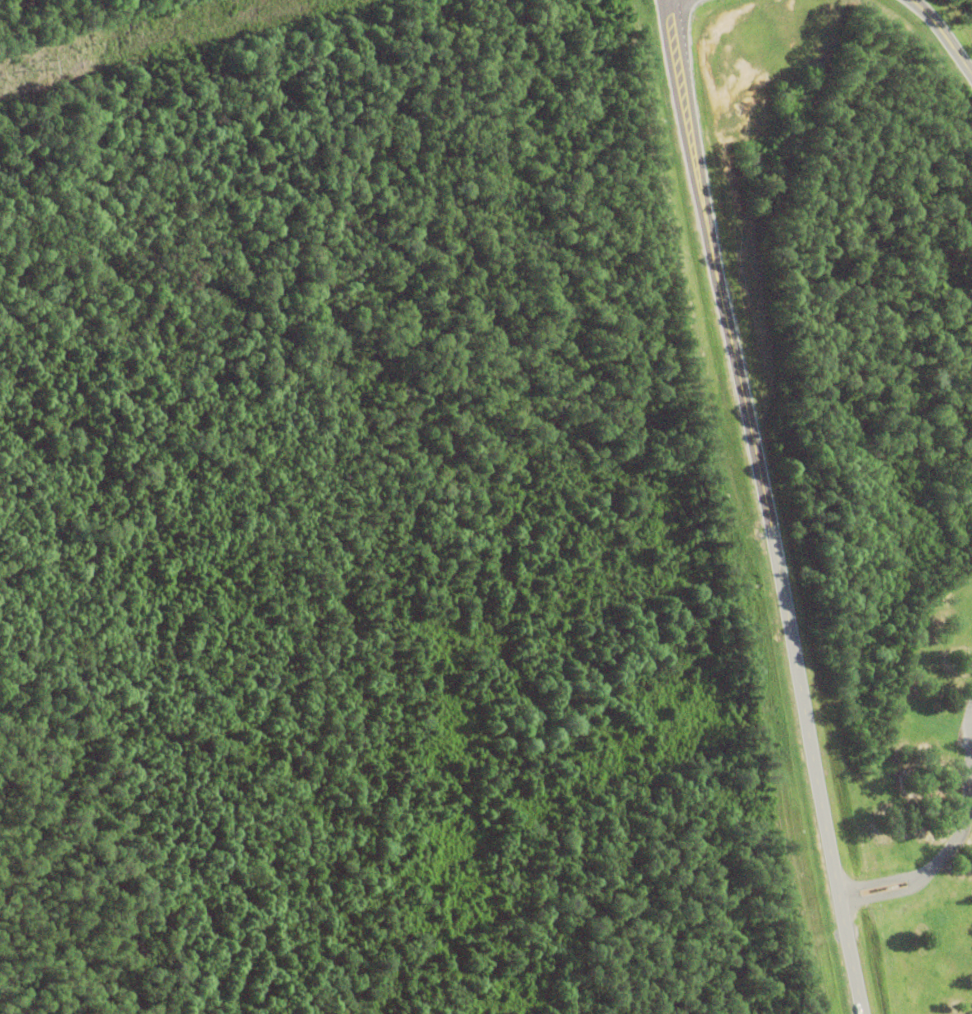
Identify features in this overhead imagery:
road: (944, 32)
road: (719, 261)
road: (815, 768)
road: (958, 835)
road: (911, 883)

